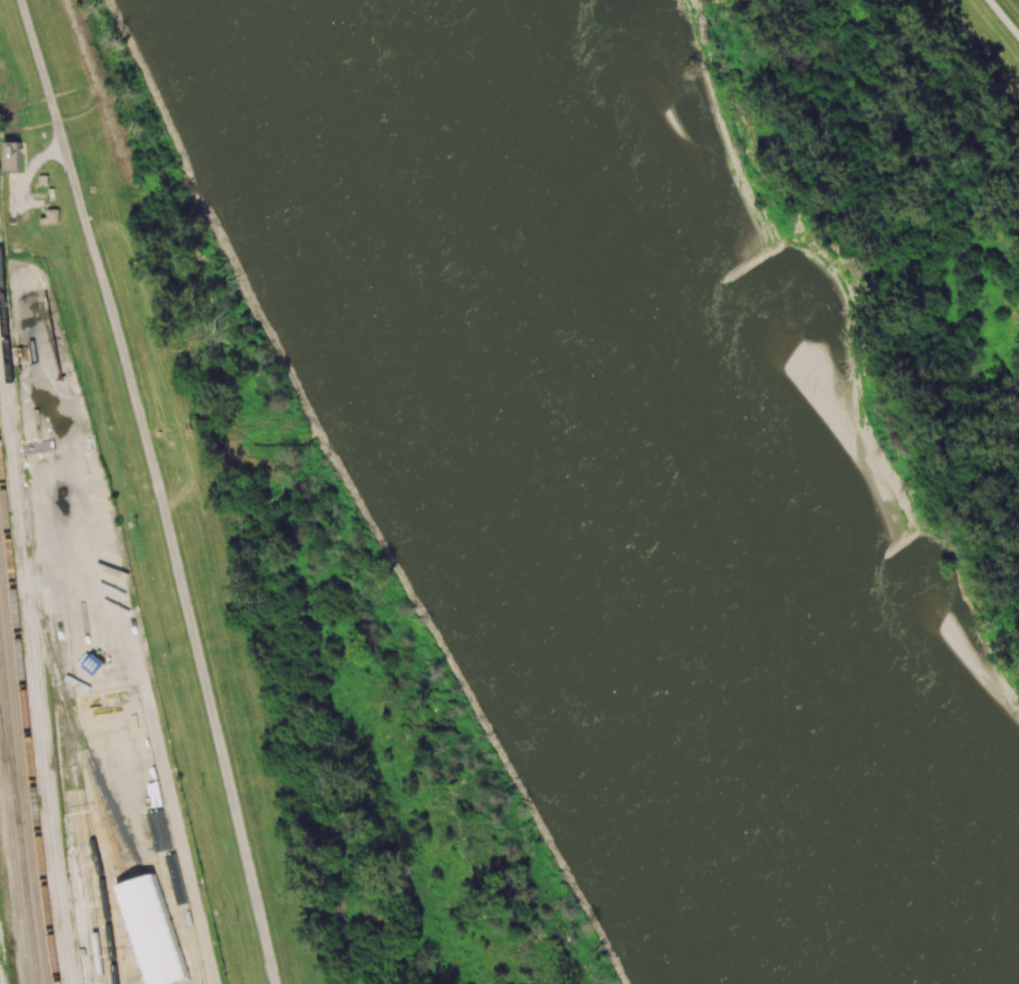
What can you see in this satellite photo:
road: (1004, 17)
building: (12, 157)
building: (50, 218)
river: (625, 495)
railway: (34, 625)
building: (93, 665)
railway: (31, 679)
railway: (27, 714)
railway: (22, 759)
railway: (69, 764)
railway: (10, 773)
railway: (98, 801)
railway: (18, 809)
building: (159, 831)
railway: (92, 841)
railway: (128, 843)
railway: (13, 861)
building: (152, 931)
railway: (0, 978)
railway: (28, 981)

